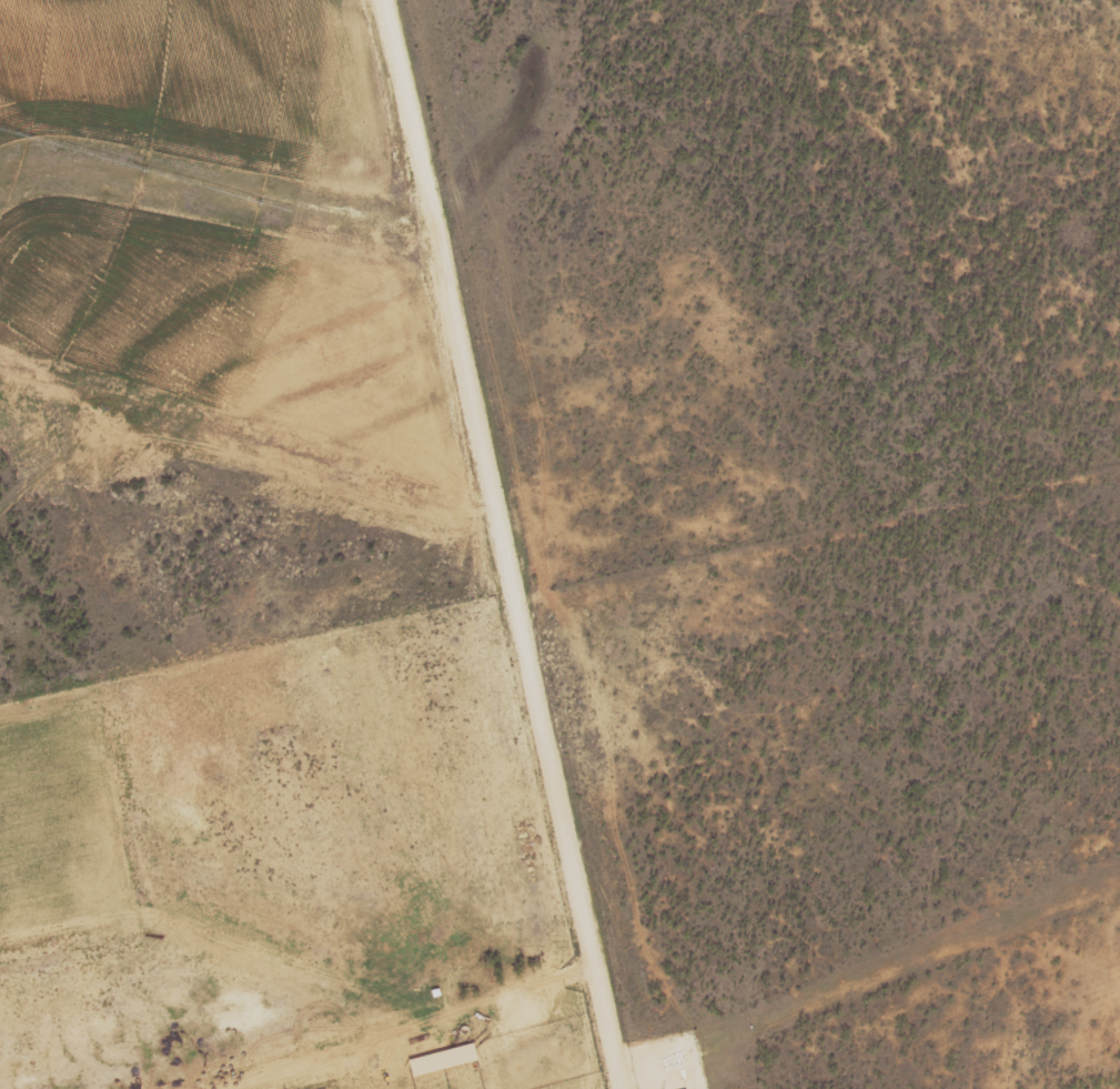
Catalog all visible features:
road: (503, 544)

